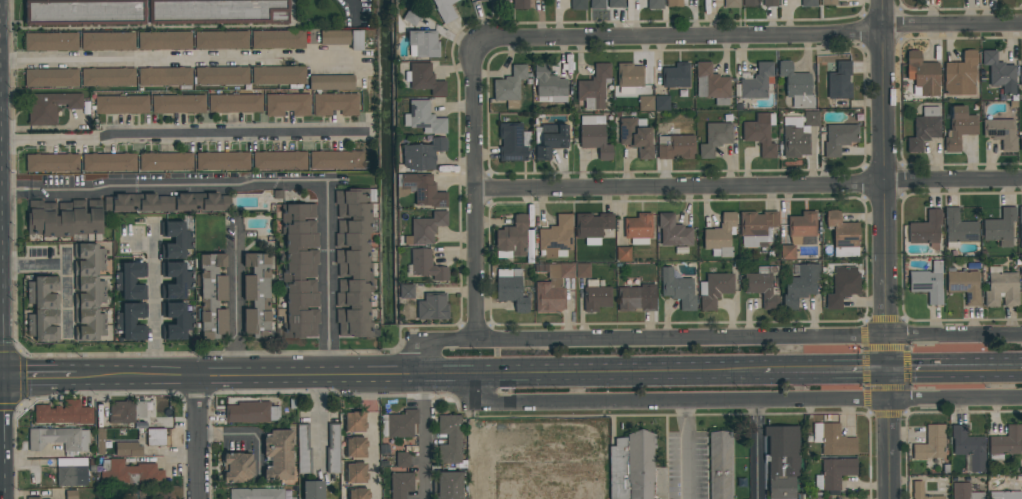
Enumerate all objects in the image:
building: (493, 0)
building: (828, 2)
building: (674, 3)
building: (751, 3)
building: (769, 3)
building: (809, 3)
building: (520, 4)
building: (597, 4)
building: (616, 4)
building: (655, 4)
building: (732, 4)
building: (578, 5)
building: (445, 10)
building: (84, 12)
building: (218, 12)
building: (412, 17)
building: (342, 38)
building: (278, 39)
road: (749, 39)
building: (221, 40)
building: (51, 41)
building: (108, 41)
building: (164, 41)
building: (422, 44)
road: (177, 58)
building: (999, 73)
building: (922, 74)
building: (278, 75)
building: (960, 75)
building: (164, 76)
building: (221, 76)
building: (676, 76)
building: (108, 77)
building: (629, 77)
building: (1021, 77)
building: (51, 78)
building: (425, 79)
building: (839, 81)
building: (331, 82)
building: (757, 82)
building: (711, 84)
building: (549, 85)
building: (796, 85)
building: (510, 86)
building: (594, 88)
building: (235, 103)
building: (646, 103)
building: (661, 103)
building: (121, 104)
building: (178, 104)
building: (288, 104)
building: (335, 104)
building: (50, 106)
building: (424, 118)
building: (811, 118)
building: (924, 128)
building: (959, 128)
building: (760, 133)
building: (1001, 133)
road: (184, 136)
building: (594, 136)
building: (636, 136)
building: (715, 138)
building: (795, 138)
building: (549, 139)
building: (839, 139)
building: (511, 142)
building: (1021, 143)
building: (676, 146)
building: (422, 154)
building: (279, 160)
building: (337, 160)
building: (222, 161)
building: (109, 162)
building: (165, 162)
building: (52, 163)
road: (749, 186)
road: (178, 188)
road: (12, 190)
road: (28, 190)
building: (421, 190)
road: (476, 191)
building: (166, 202)
building: (64, 218)
building: (802, 224)
building: (1020, 224)
building: (592, 227)
building: (1000, 227)
building: (425, 228)
building: (638, 228)
building: (757, 228)
building: (959, 228)
building: (926, 230)
building: (673, 231)
building: (843, 235)
building: (721, 236)
building: (556, 237)
building: (512, 238)
building: (175, 239)
road: (883, 249)
building: (787, 252)
building: (623, 254)
building: (354, 262)
building: (426, 265)
road: (65, 268)
building: (582, 270)
building: (299, 271)
building: (176, 280)
building: (131, 281)
road: (328, 282)
building: (928, 282)
building: (764, 285)
building: (800, 285)
building: (843, 286)
building: (965, 286)
building: (551, 287)
building: (221, 288)
building: (511, 288)
building: (1002, 288)
building: (678, 289)
building: (714, 289)
building: (406, 291)
building: (89, 292)
building: (257, 294)
building: (595, 296)
building: (636, 298)
road: (235, 302)
road: (155, 307)
building: (432, 307)
building: (43, 308)
building: (176, 320)
building: (131, 321)
road: (706, 339)
road: (823, 370)
traffic signals: (884, 370)
road: (953, 370)
road: (419, 377)
road: (38, 379)
road: (737, 400)
building: (126, 411)
building: (251, 412)
building: (64, 413)
road: (319, 420)
building: (354, 422)
building: (399, 424)
building: (157, 437)
road: (376, 438)
road: (423, 438)
building: (58, 439)
building: (450, 439)
building: (832, 439)
road: (198, 440)
building: (1005, 443)
building: (930, 444)
building: (356, 447)
building: (968, 448)
building: (128, 449)
building: (303, 449)
road: (686, 449)
road: (756, 449)
building: (333, 450)
building: (278, 455)
building: (585, 458)
building: (403, 460)
building: (782, 462)
building: (721, 466)
building: (237, 467)
building: (72, 472)
building: (130, 473)
building: (356, 473)
building: (834, 473)
building: (401, 485)
building: (449, 485)
building: (540, 488)
building: (313, 490)
building: (921, 491)
building: (964, 492)
building: (358, 493)
building: (71, 494)
building: (256, 494)
building: (1005, 495)
building: (33, 498)

